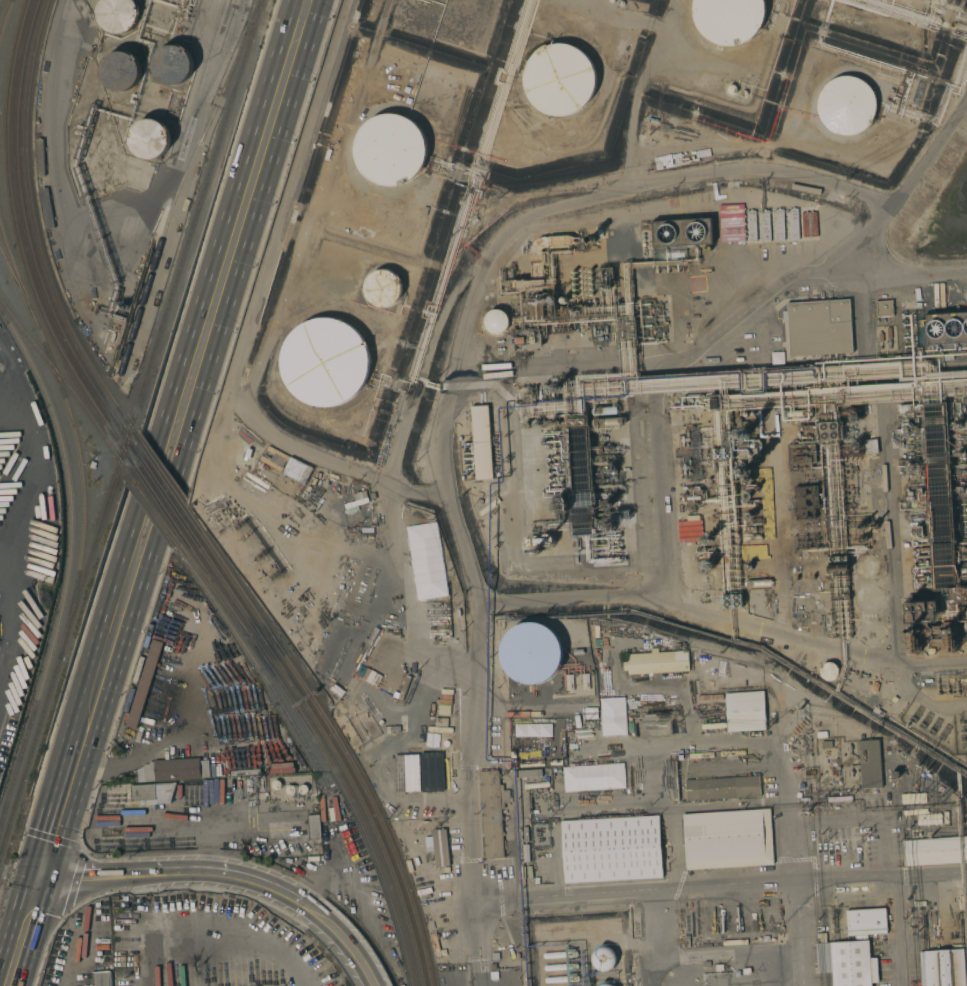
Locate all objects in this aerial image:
building: (172, 0)
railway: (2, 5)
storage tank: (116, 13)
building: (116, 15)
storage tank: (117, 15)
building: (727, 18)
railway: (6, 20)
storage tank: (171, 61)
storage tank: (173, 64)
building: (171, 65)
storage tank: (120, 70)
building: (120, 71)
building: (558, 79)
building: (731, 89)
building: (743, 93)
building: (845, 104)
storage tank: (148, 136)
storage tank: (149, 138)
building: (149, 139)
building: (390, 149)
railway: (180, 185)
railway: (11, 196)
railway: (199, 210)
railway: (34, 218)
building: (794, 223)
railway: (25, 224)
building: (779, 225)
building: (751, 226)
building: (765, 226)
building: (682, 232)
building: (590, 239)
building: (558, 241)
building: (760, 259)
building: (536, 273)
building: (510, 277)
road: (915, 277)
railway: (18, 287)
building: (383, 287)
building: (563, 300)
building: (918, 304)
building: (539, 307)
building: (884, 308)
railway: (15, 319)
building: (650, 320)
building: (497, 322)
building: (945, 328)
building: (817, 329)
building: (888, 332)
building: (880, 336)
building: (525, 340)
building: (718, 352)
road: (687, 356)
building: (324, 361)
railway: (81, 402)
building: (714, 404)
building: (909, 408)
railway: (98, 410)
building: (604, 410)
building: (800, 413)
building: (854, 416)
building: (794, 420)
building: (576, 422)
building: (607, 422)
building: (956, 425)
railway: (131, 426)
building: (807, 428)
building: (915, 429)
building: (829, 430)
building: (904, 430)
railway: (74, 434)
building: (743, 434)
road: (173, 435)
railway: (126, 436)
building: (481, 442)
building: (856, 446)
railway: (122, 447)
road: (878, 447)
building: (554, 448)
building: (749, 449)
building: (961, 452)
building: (689, 453)
building: (723, 453)
building: (801, 456)
building: (554, 457)
building: (605, 458)
building: (917, 461)
building: (609, 467)
road: (340, 468)
road: (768, 469)
building: (746, 471)
railway: (130, 474)
railway: (163, 474)
building: (579, 477)
building: (557, 478)
building: (557, 484)
railway: (159, 485)
building: (964, 490)
railway: (155, 494)
building: (694, 496)
building: (747, 496)
building: (939, 497)
building: (809, 501)
building: (561, 502)
building: (606, 504)
road: (26, 511)
railway: (158, 512)
railway: (157, 514)
building: (615, 515)
building: (748, 516)
building: (607, 525)
building: (873, 525)
building: (861, 526)
building: (917, 532)
building: (620, 534)
building: (752, 538)
railway: (98, 539)
building: (707, 539)
building: (861, 539)
building: (546, 540)
building: (536, 541)
building: (613, 542)
building: (805, 544)
road: (461, 545)
building: (922, 548)
building: (613, 550)
building: (963, 552)
building: (922, 556)
building: (837, 559)
building: (708, 566)
building: (866, 567)
railway: (72, 568)
building: (837, 568)
building: (921, 571)
building: (806, 577)
building: (758, 582)
railway: (214, 587)
building: (963, 589)
building: (731, 600)
building: (819, 606)
building: (921, 607)
road: (722, 615)
building: (912, 643)
building: (949, 643)
building: (532, 653)
storage tank: (532, 653)
building: (655, 662)
building: (327, 671)
building: (828, 672)
building: (963, 677)
building: (145, 684)
building: (745, 711)
railway: (294, 724)
railway: (338, 736)
railway: (331, 742)
road: (195, 748)
railway: (323, 748)
building: (410, 748)
railway: (30, 758)
building: (869, 764)
building: (174, 769)
building: (424, 772)
building: (527, 773)
building: (592, 777)
building: (247, 785)
building: (275, 785)
storage tank: (275, 785)
building: (722, 788)
building: (296, 789)
storage tank: (296, 789)
building: (152, 792)
building: (913, 798)
road: (77, 800)
road: (687, 805)
building: (492, 812)
road: (149, 823)
building: (313, 827)
building: (727, 839)
road: (792, 839)
building: (440, 847)
building: (611, 849)
building: (935, 851)
road: (206, 858)
road: (556, 861)
road: (123, 871)
traffic signals: (43, 873)
building: (536, 880)
road: (302, 905)
building: (865, 921)
road: (475, 922)
road: (24, 929)
road: (898, 932)
road: (800, 934)
road: (480, 936)
building: (559, 954)
building: (603, 960)
building: (847, 962)
road: (482, 963)
road: (473, 964)
building: (560, 967)
building: (941, 968)
building: (101, 978)
building: (561, 979)
building: (606, 984)

